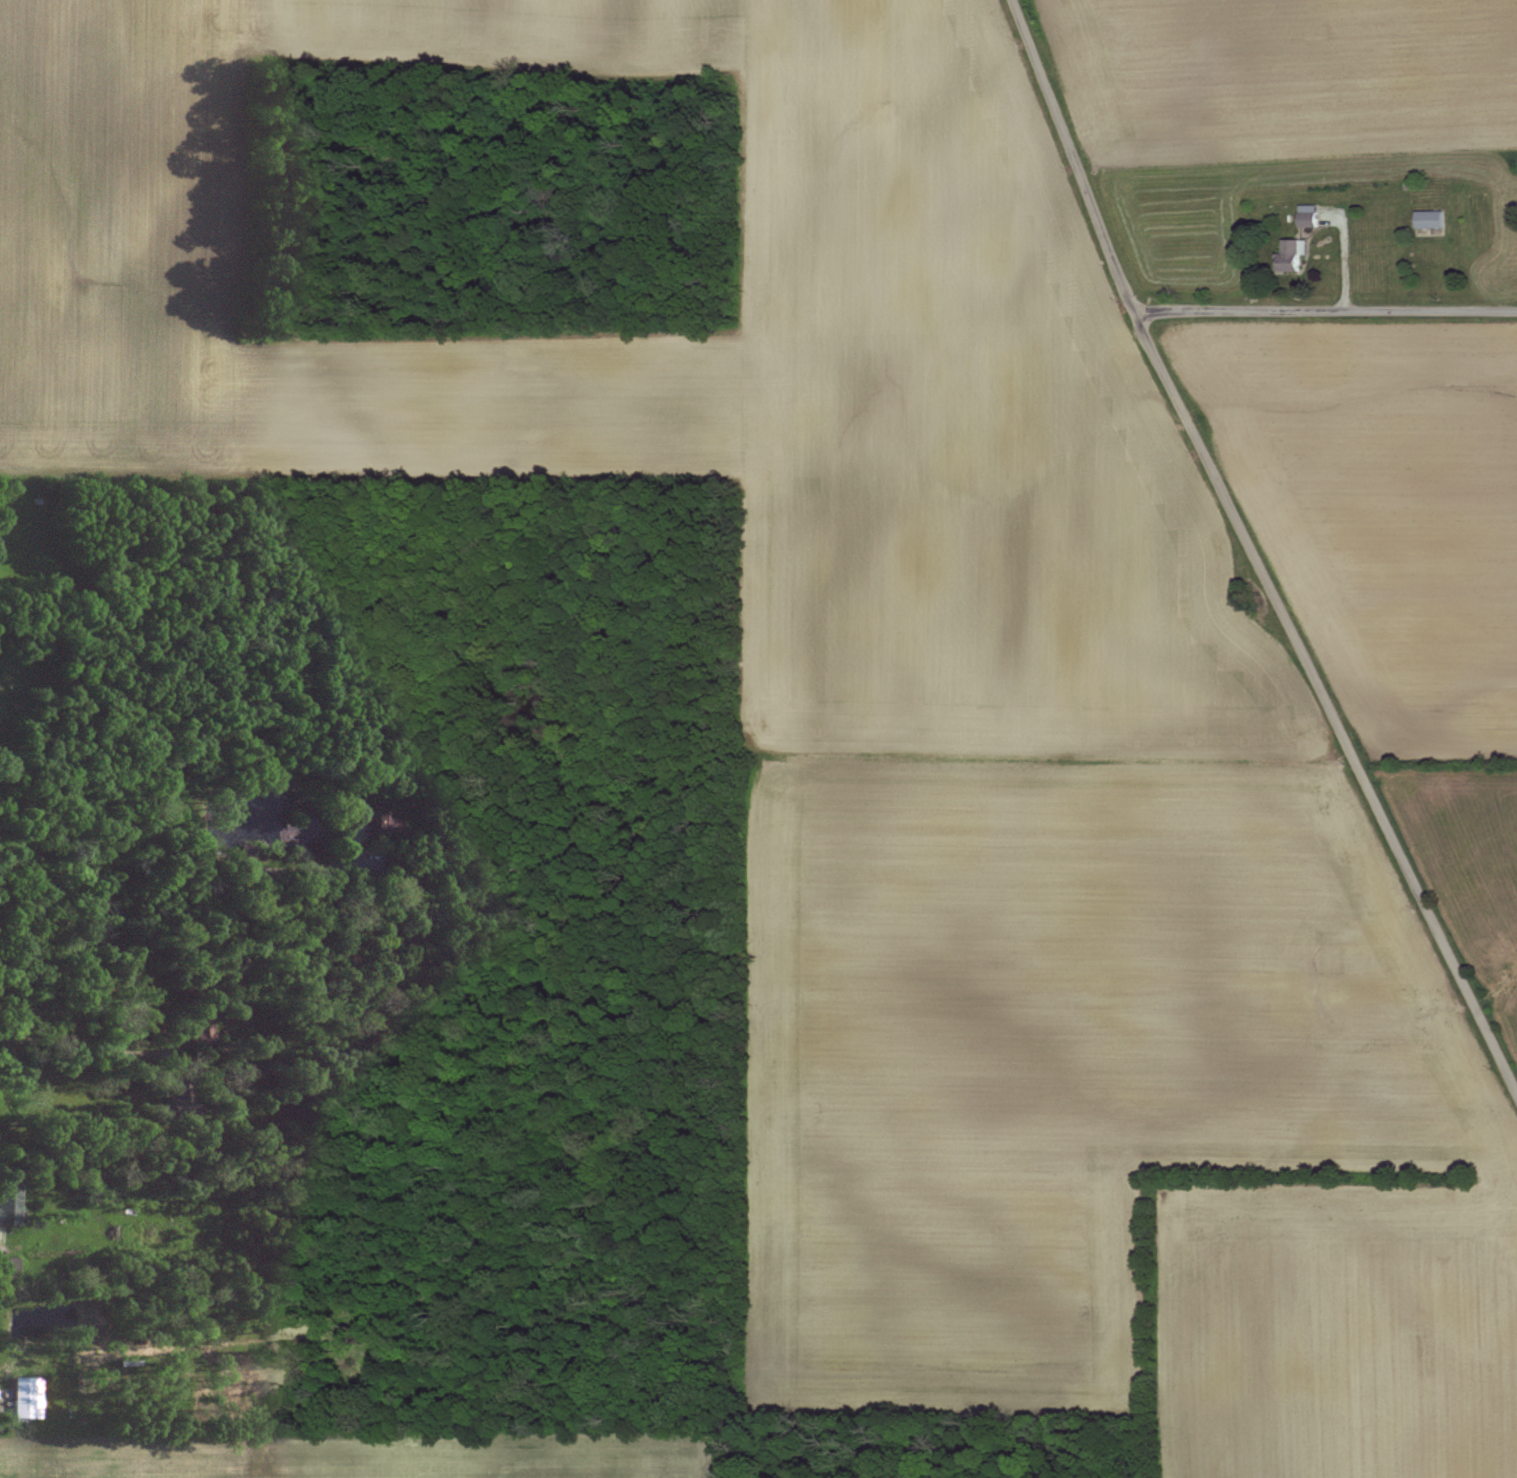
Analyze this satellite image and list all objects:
building: (1310, 216)
building: (1432, 220)
building: (1295, 254)
road: (1326, 308)
road: (1252, 549)
road: (112, 666)
road: (186, 834)
road: (75, 1048)
building: (10, 1201)
building: (29, 1397)

